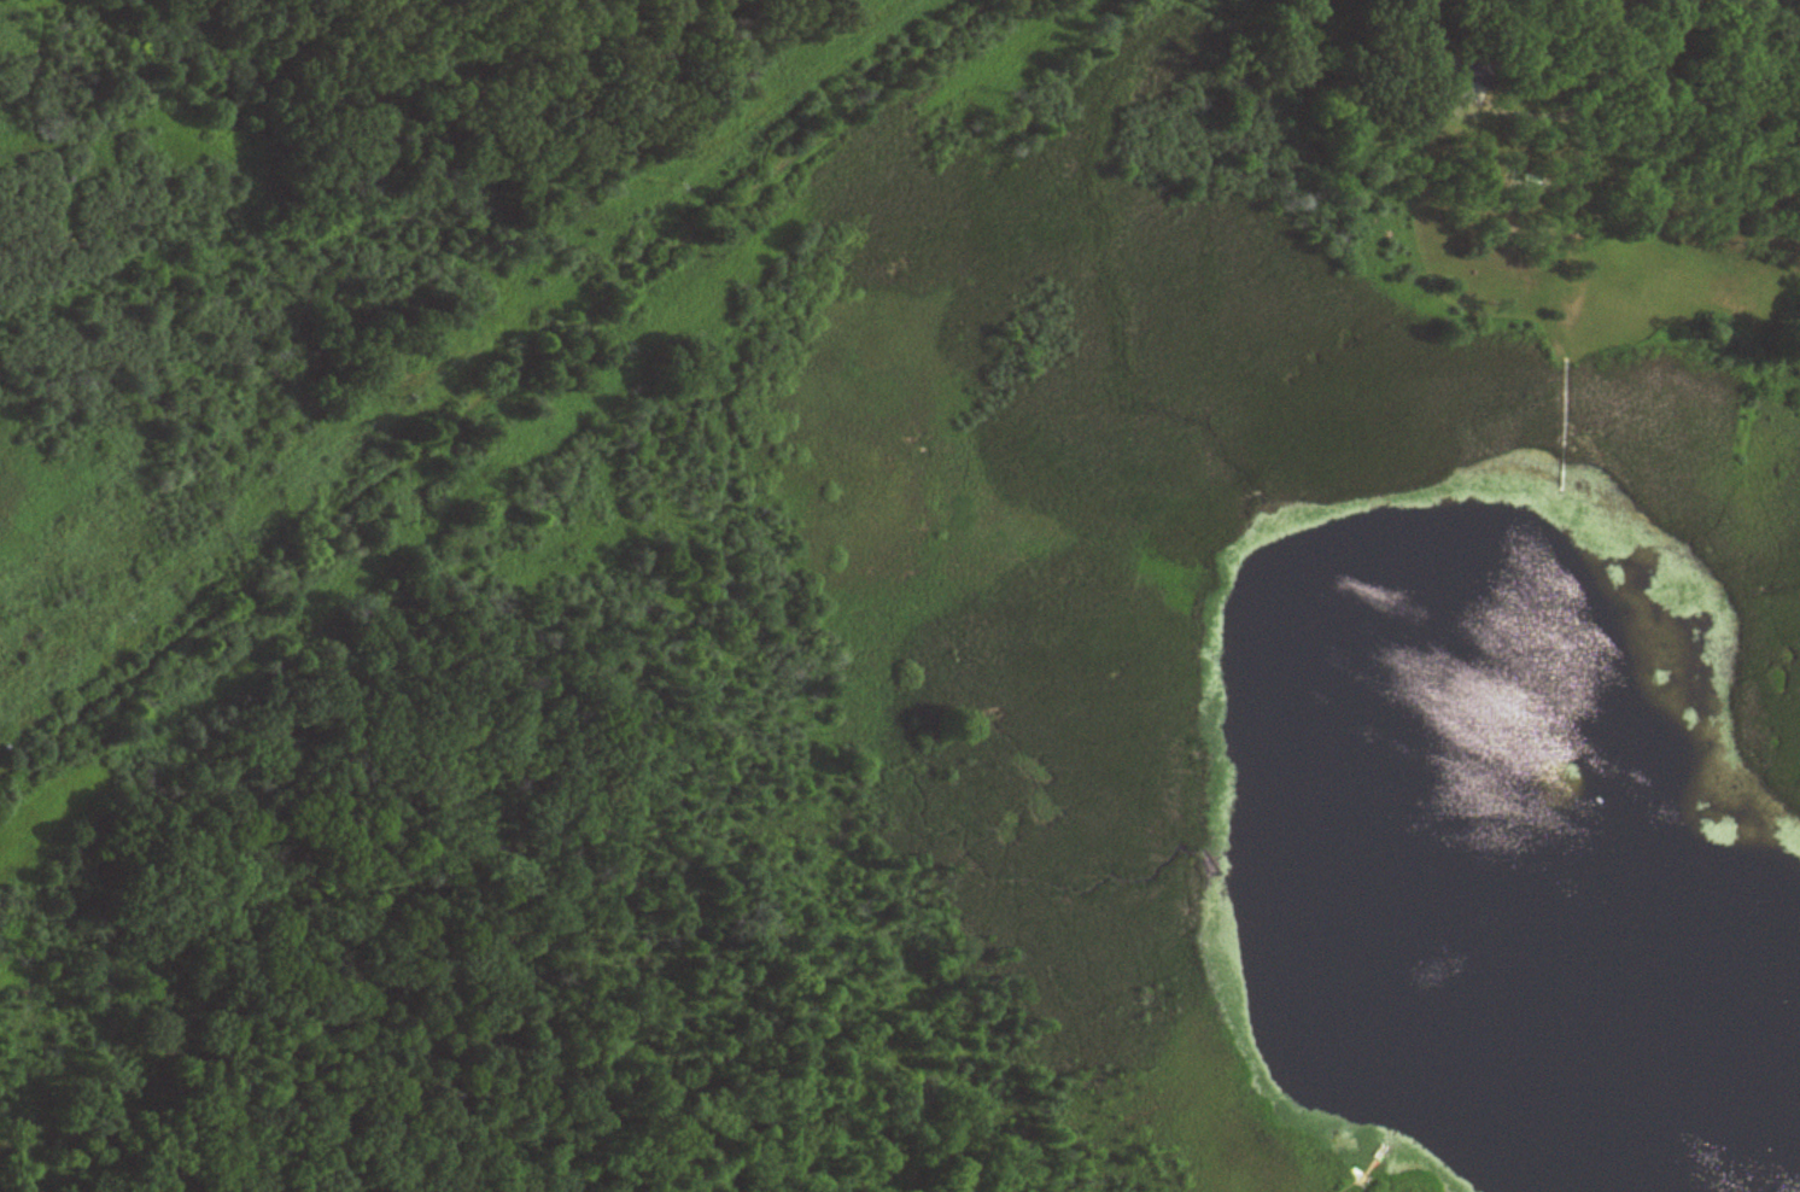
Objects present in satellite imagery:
building: (1527, 185)

